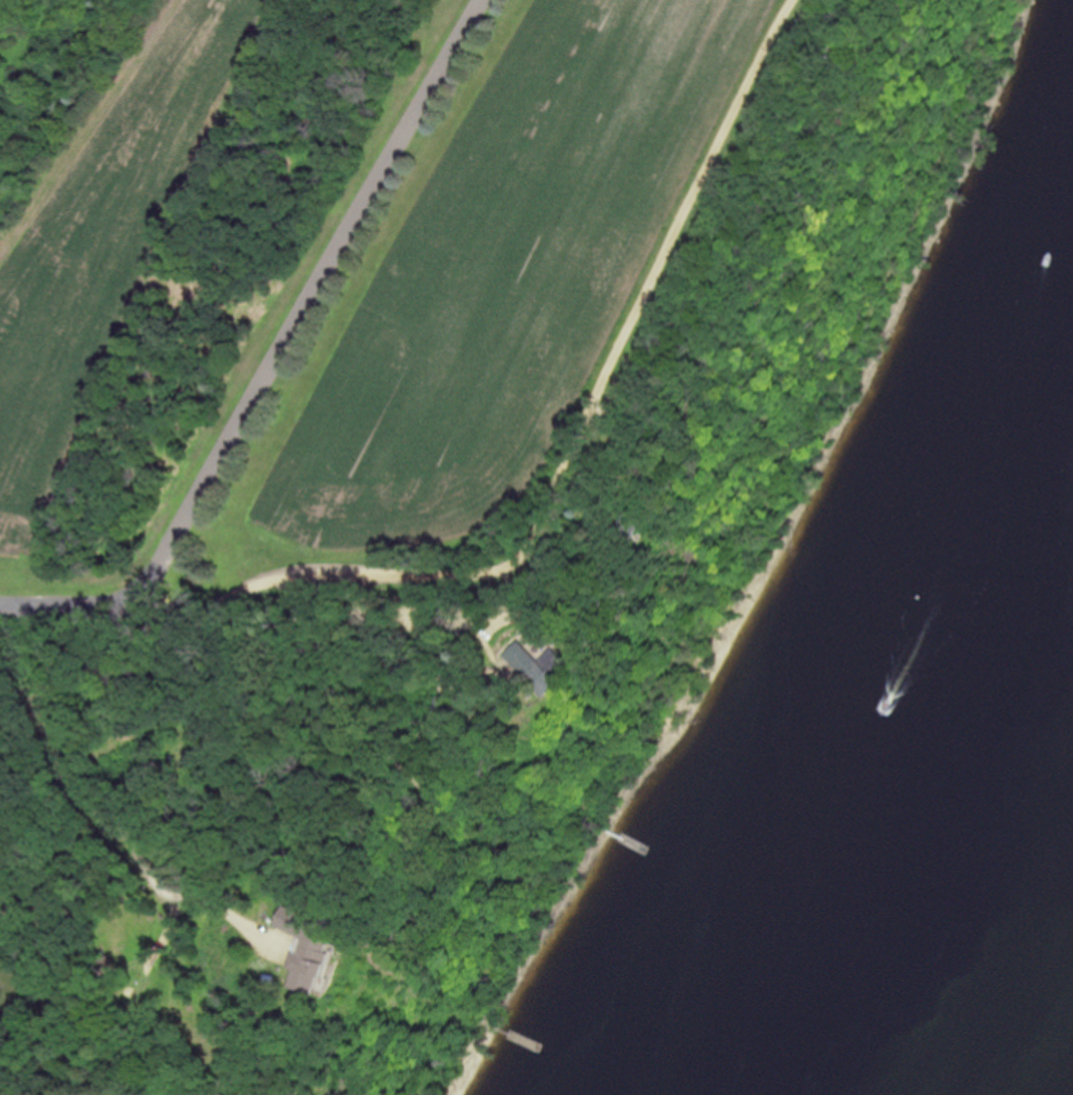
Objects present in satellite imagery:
road: (304, 296)
road: (621, 336)
road: (263, 579)
road: (74, 598)
road: (339, 615)
road: (99, 797)
building: (313, 960)
road: (7, 1084)

